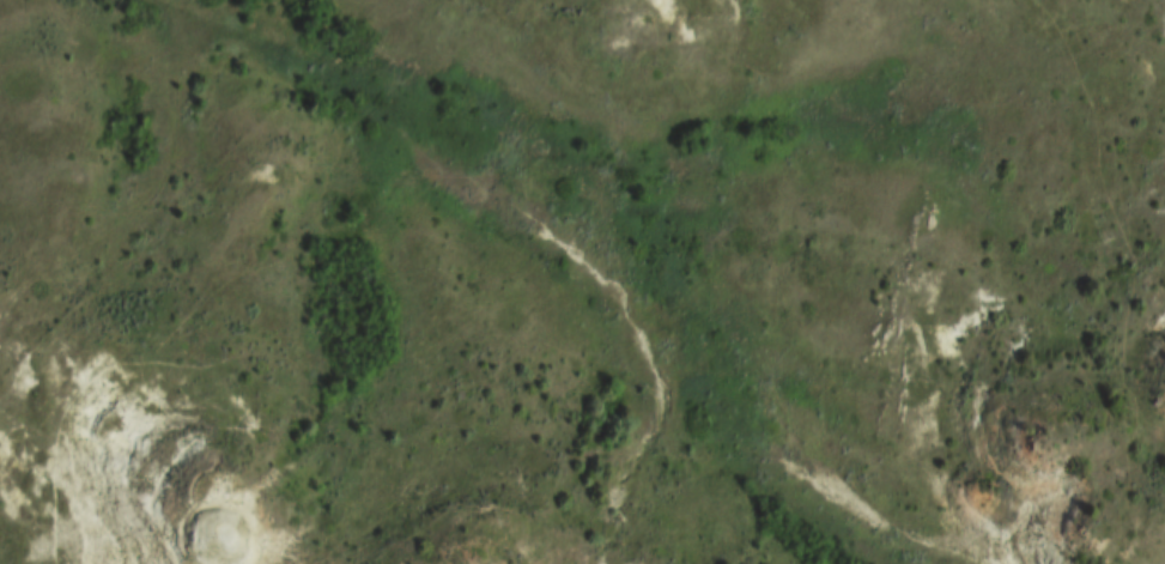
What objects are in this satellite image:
road: (17, 255)

